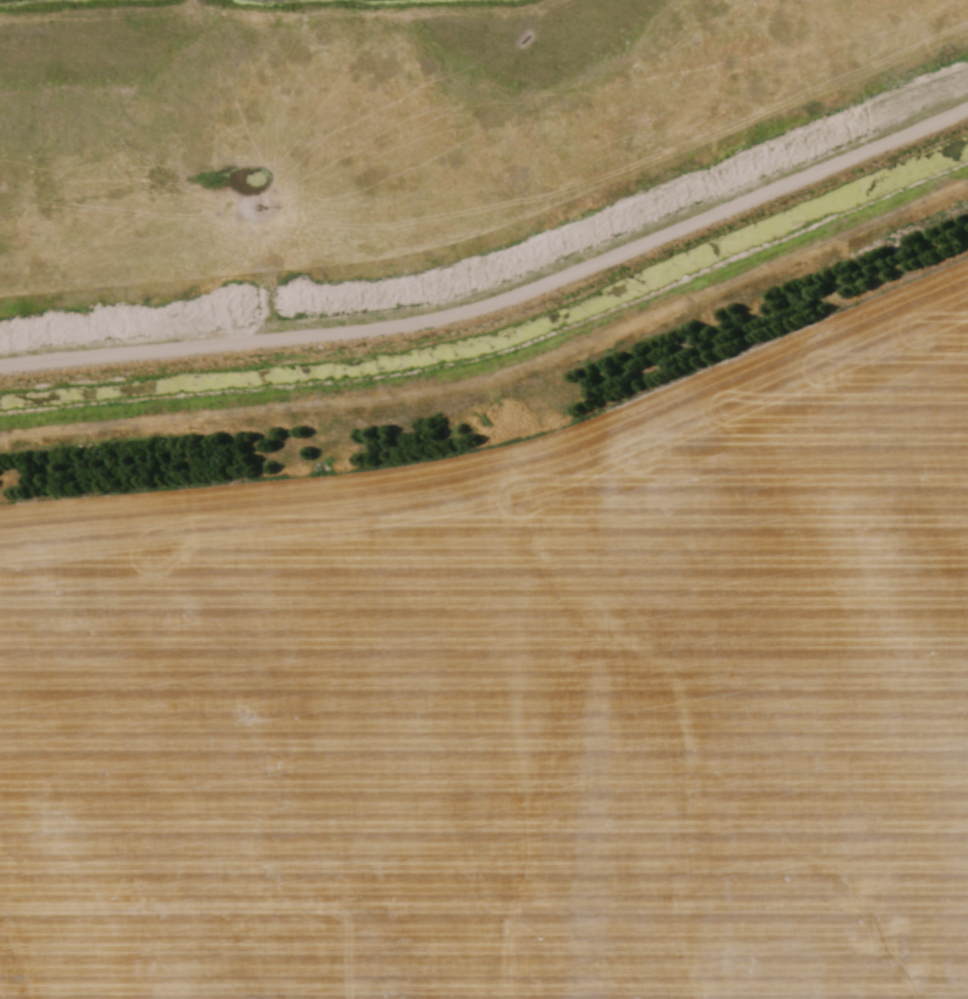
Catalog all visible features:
road: (500, 304)

